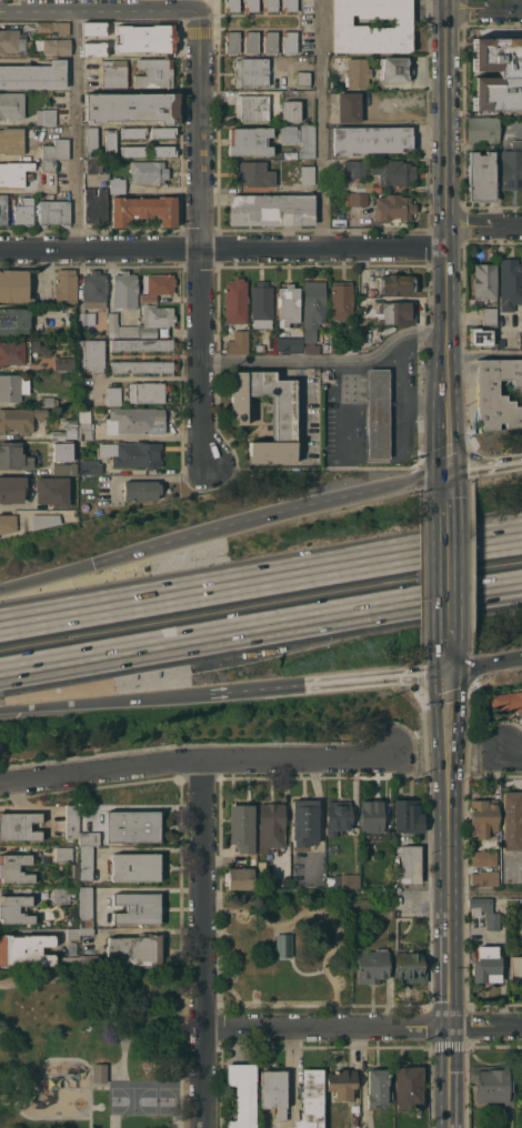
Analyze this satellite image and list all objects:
building: (250, 4)
building: (270, 4)
building: (289, 4)
road: (471, 4)
building: (232, 6)
road: (501, 8)
road: (98, 12)
building: (349, 26)
building: (53, 27)
building: (93, 28)
building: (145, 38)
building: (13, 40)
building: (232, 41)
building: (250, 41)
building: (270, 41)
building: (289, 41)
building: (53, 46)
building: (93, 48)
building: (395, 69)
building: (251, 71)
building: (153, 72)
building: (358, 72)
building: (498, 73)
building: (113, 74)
building: (33, 75)
building: (302, 78)
building: (11, 104)
building: (264, 105)
building: (132, 107)
building: (349, 107)
building: (46, 117)
road: (322, 124)
building: (482, 129)
road: (76, 131)
building: (132, 132)
building: (162, 132)
building: (289, 133)
building: (370, 139)
building: (11, 140)
building: (250, 141)
building: (307, 141)
building: (110, 142)
building: (56, 149)
building: (92, 150)
building: (132, 150)
building: (162, 150)
road: (449, 167)
building: (355, 168)
building: (511, 168)
building: (148, 171)
building: (391, 172)
building: (13, 173)
building: (254, 173)
building: (48, 174)
building: (308, 174)
building: (481, 177)
building: (117, 184)
building: (360, 185)
building: (63, 194)
building: (355, 199)
building: (96, 207)
building: (394, 207)
building: (3, 209)
building: (271, 209)
building: (143, 210)
building: (23, 211)
building: (53, 212)
road: (460, 218)
road: (502, 224)
road: (198, 238)
road: (223, 249)
building: (483, 281)
building: (158, 283)
building: (396, 283)
building: (510, 283)
building: (13, 285)
building: (66, 285)
building: (124, 290)
building: (371, 292)
building: (91, 296)
building: (148, 298)
building: (341, 300)
building: (235, 301)
building: (261, 304)
building: (288, 304)
building: (312, 312)
building: (396, 312)
building: (489, 315)
building: (155, 319)
building: (14, 321)
building: (121, 328)
building: (481, 335)
building: (520, 340)
building: (238, 342)
building: (289, 343)
building: (141, 344)
road: (449, 344)
building: (259, 346)
building: (338, 349)
building: (17, 351)
road: (485, 353)
building: (93, 355)
building: (63, 363)
road: (328, 363)
building: (142, 365)
road: (449, 383)
building: (12, 386)
building: (145, 392)
building: (113, 395)
building: (491, 397)
building: (46, 401)
building: (378, 413)
building: (283, 414)
building: (20, 419)
building: (137, 420)
building: (69, 423)
building: (84, 426)
building: (58, 435)
road: (450, 443)
building: (62, 450)
building: (132, 453)
building: (13, 455)
building: (90, 466)
road: (328, 467)
building: (64, 469)
road: (485, 469)
traffic signals: (450, 475)
road: (450, 479)
building: (12, 489)
building: (141, 490)
building: (52, 491)
building: (103, 493)
road: (271, 515)
building: (43, 520)
building: (7, 523)
traffic signals: (94, 564)
road: (450, 567)
road: (47, 576)
road: (260, 580)
road: (519, 592)
road: (519, 592)
road: (257, 635)
road: (451, 663)
road: (486, 665)
traffic signals: (451, 672)
road: (375, 678)
road: (254, 689)
building: (505, 702)
road: (104, 703)
road: (514, 746)
road: (445, 747)
road: (192, 761)
building: (371, 815)
building: (482, 816)
building: (338, 817)
building: (72, 820)
building: (512, 820)
building: (304, 822)
building: (19, 826)
building: (132, 826)
building: (271, 826)
building: (241, 827)
building: (89, 838)
building: (399, 839)
road: (450, 848)
building: (63, 854)
building: (483, 857)
building: (86, 863)
building: (134, 866)
building: (14, 867)
building: (72, 874)
building: (239, 878)
building: (484, 878)
building: (344, 880)
building: (284, 882)
road: (486, 888)
building: (61, 895)
building: (86, 907)
building: (137, 907)
building: (14, 909)
building: (492, 914)
building: (87, 930)
building: (73, 934)
road: (203, 944)
building: (283, 945)
building: (510, 945)
building: (26, 949)
building: (135, 949)
building: (90, 961)
building: (70, 963)
building: (372, 965)
building: (485, 965)
building: (410, 967)
building: (515, 969)
road: (78, 985)
park: (154, 1018)
road: (486, 1025)
road: (327, 1027)
road: (127, 1045)
building: (99, 1067)
road: (289, 1069)
road: (294, 1069)
road: (451, 1077)
building: (495, 1081)
building: (342, 1082)
building: (409, 1084)
building: (377, 1087)
building: (273, 1090)
building: (242, 1094)
park: (138, 1098)
building: (311, 1099)
building: (354, 1120)

